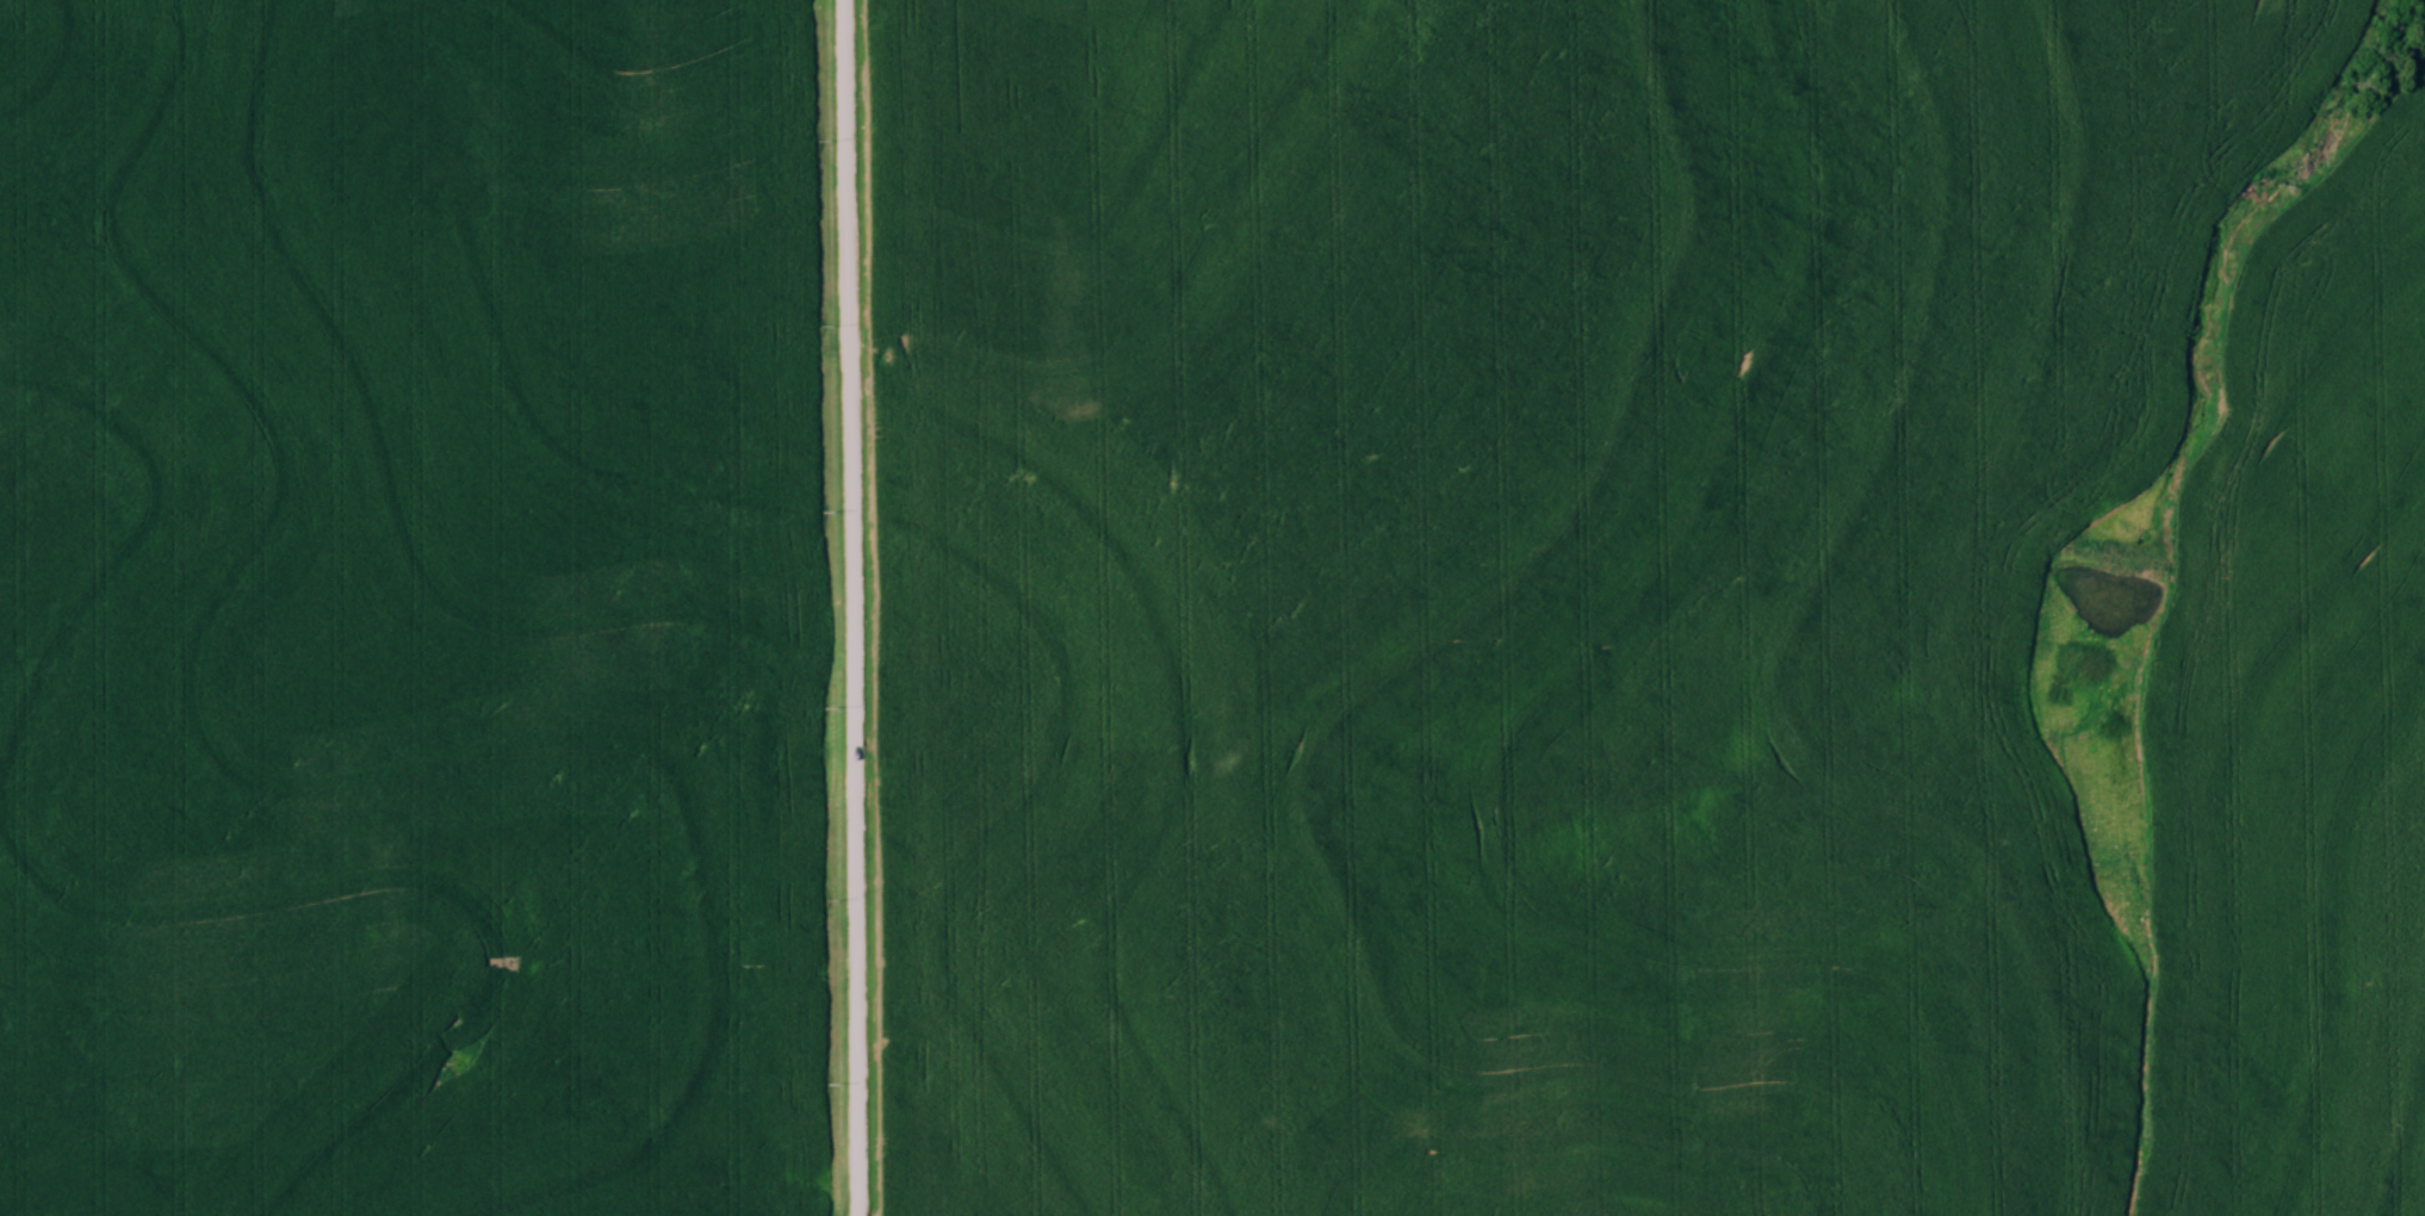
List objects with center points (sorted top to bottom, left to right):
road: (855, 607)

